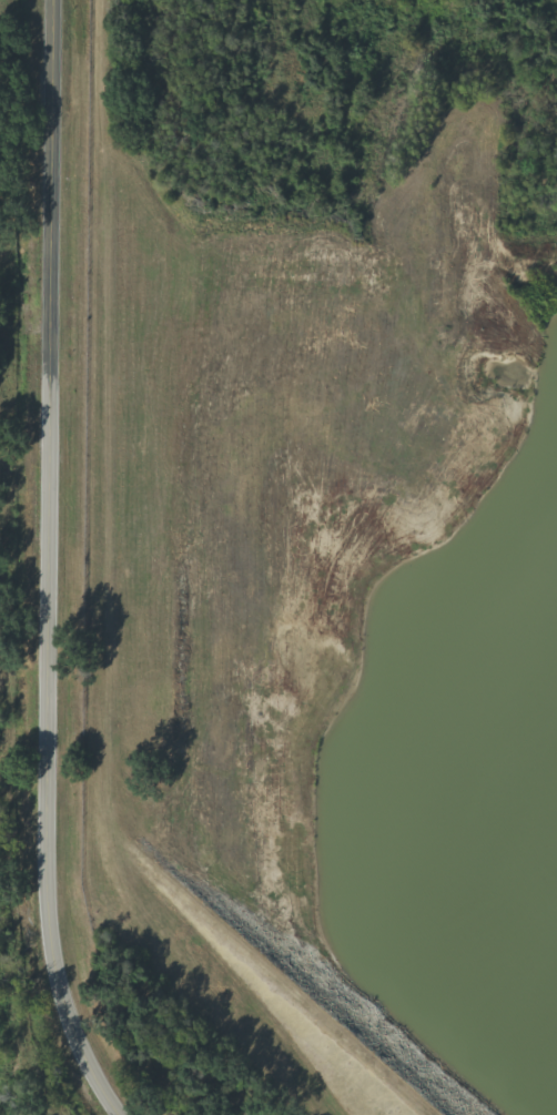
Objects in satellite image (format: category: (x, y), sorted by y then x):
road: (47, 562)

